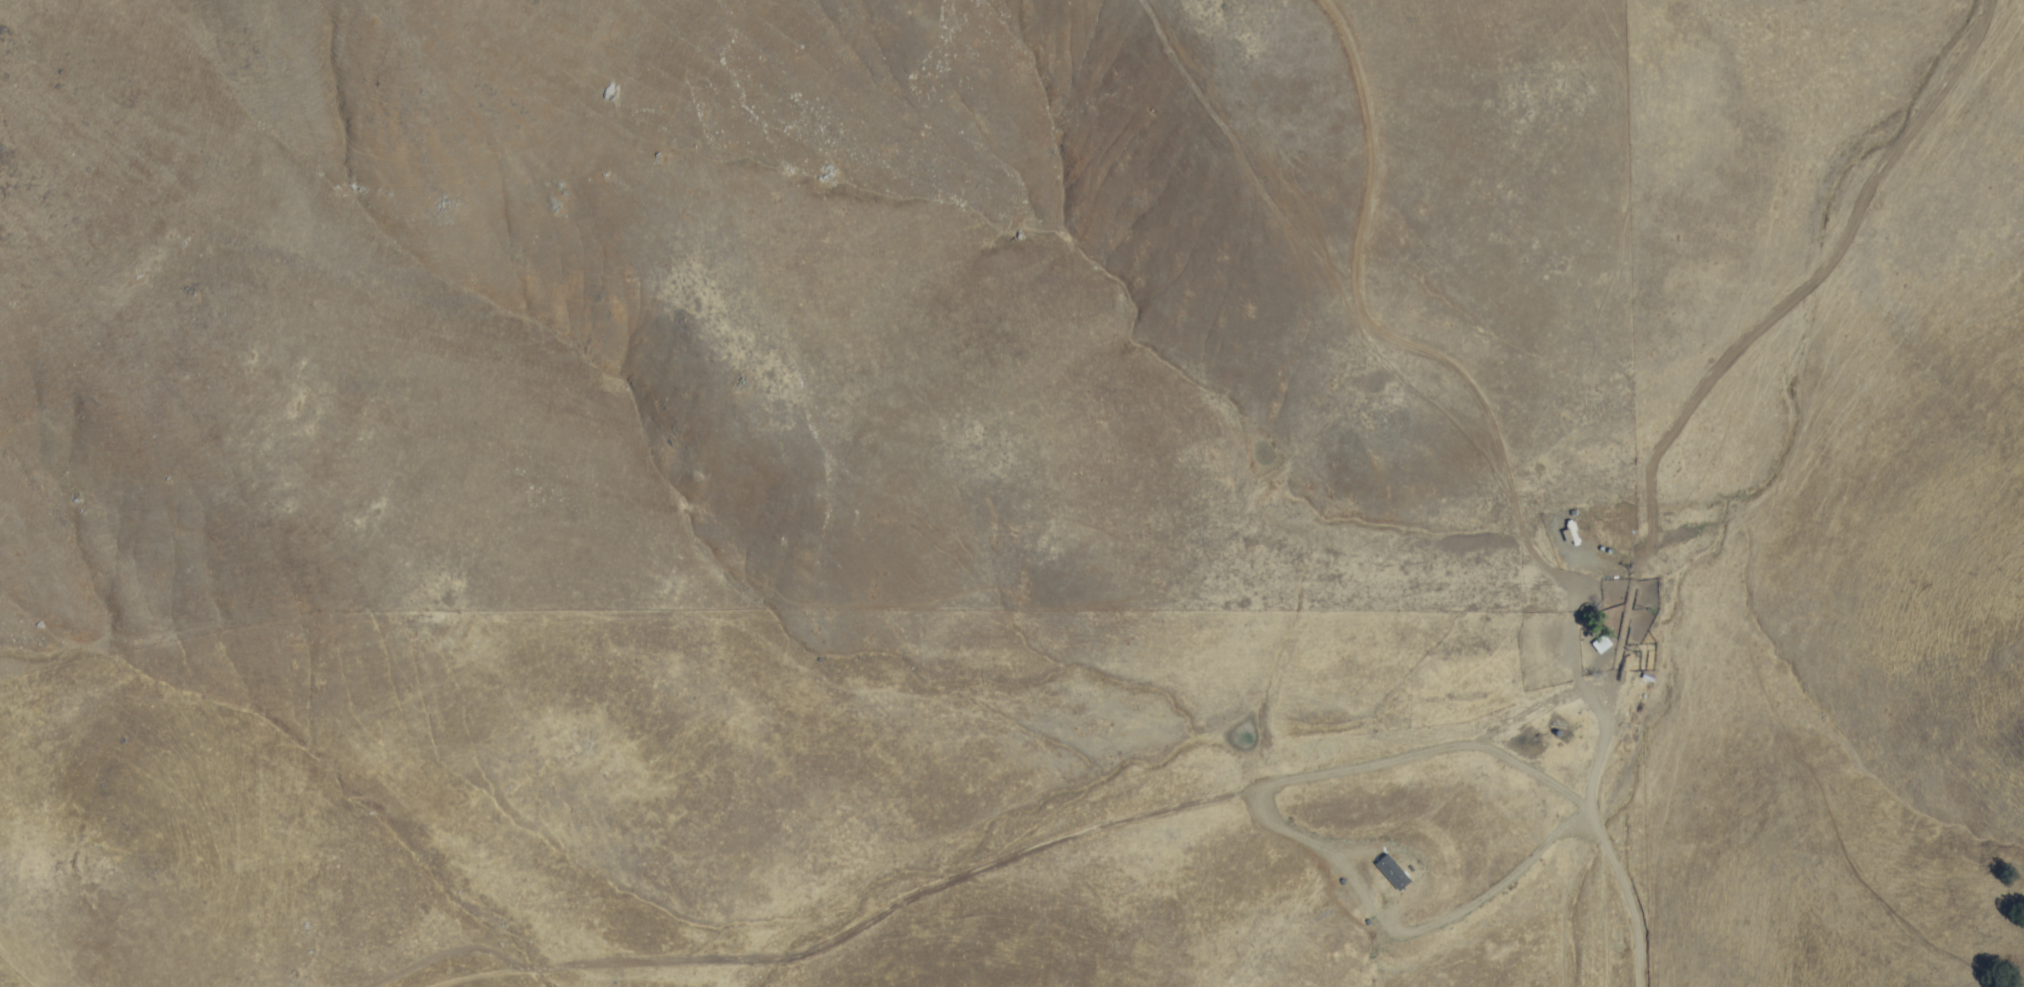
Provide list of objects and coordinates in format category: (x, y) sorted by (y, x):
road: (1594, 803)

